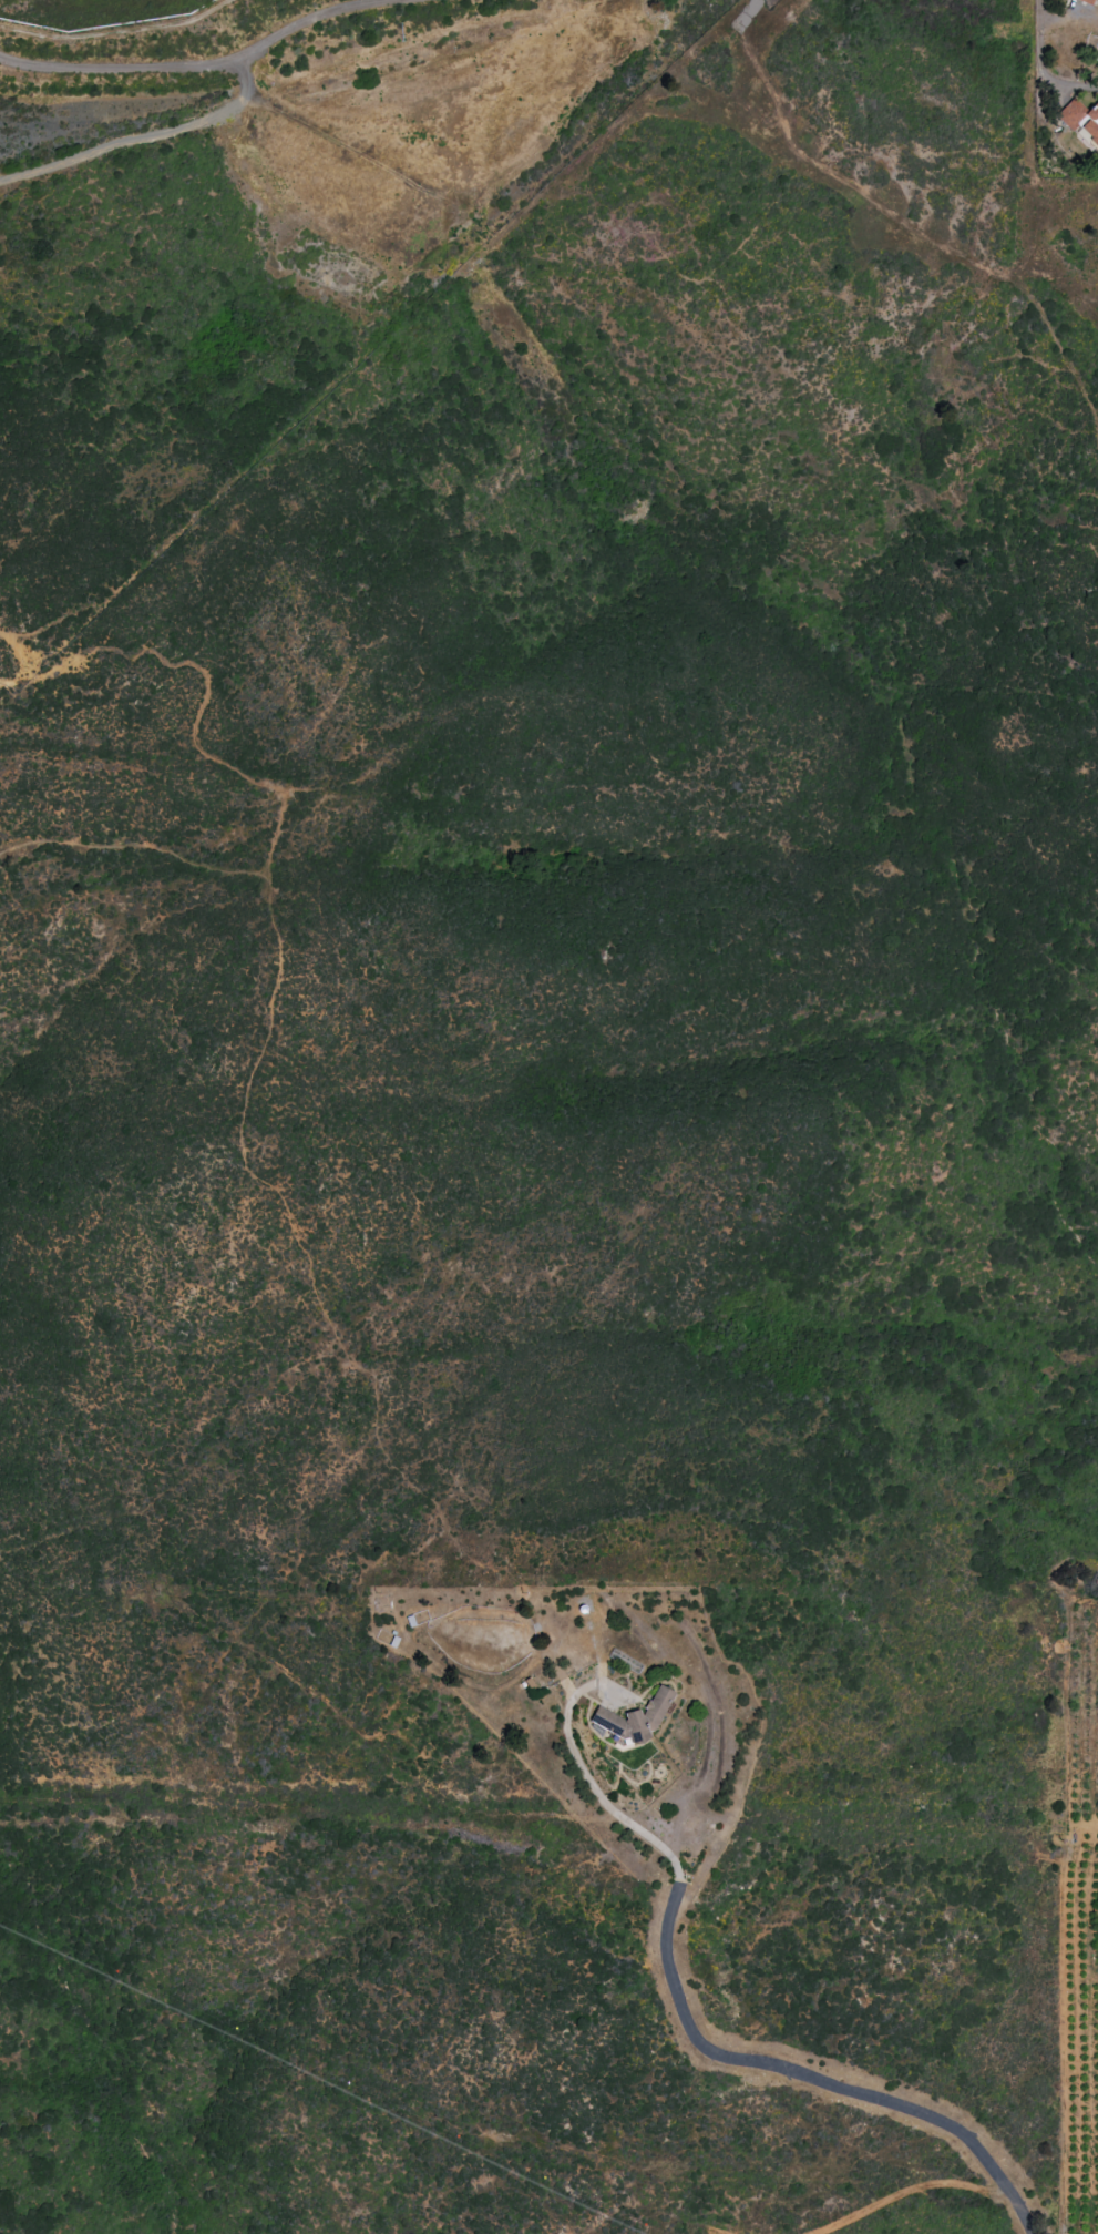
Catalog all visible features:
building: (1086, 1)
landfill: (196, 27)
road: (1039, 67)
road: (215, 114)
building: (1080, 119)
road: (894, 214)
road: (1097, 445)
road: (248, 778)
road: (281, 1201)
building: (633, 1718)
road: (1082, 1823)
road: (716, 2052)
road: (910, 2191)

